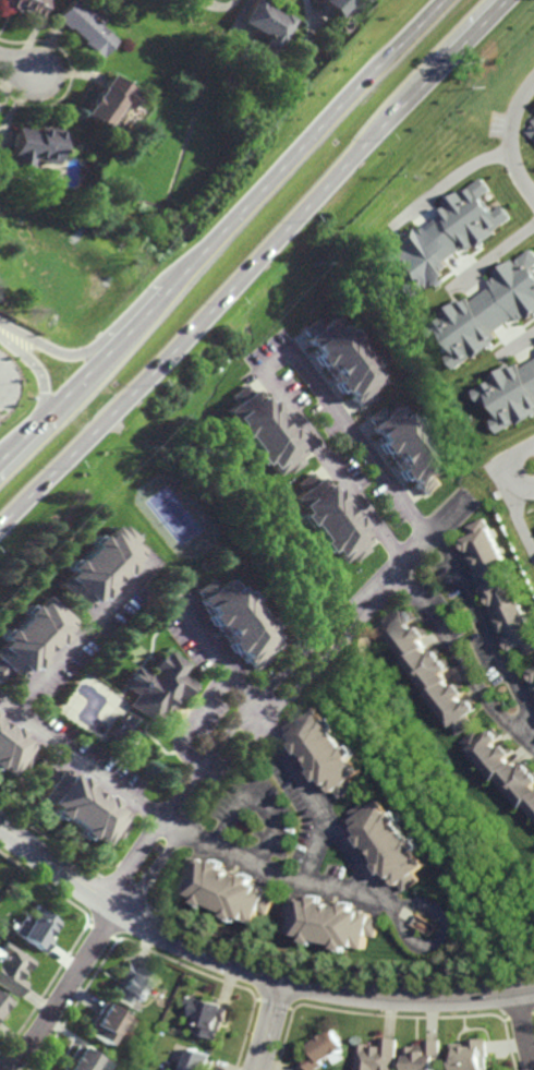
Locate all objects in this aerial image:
building: (25, 7)
building: (340, 7)
building: (267, 25)
building: (84, 29)
road: (19, 65)
building: (106, 105)
building: (533, 110)
building: (529, 127)
road: (512, 137)
building: (35, 146)
road: (454, 178)
road: (226, 229)
building: (441, 238)
road: (493, 256)
road: (248, 261)
building: (487, 310)
road: (520, 340)
road: (58, 351)
building: (345, 359)
road: (271, 362)
road: (36, 366)
building: (509, 394)
road: (85, 407)
building: (265, 431)
building: (410, 447)
road: (533, 457)
road: (533, 459)
road: (511, 506)
park: (173, 517)
building: (329, 519)
road: (416, 549)
building: (104, 565)
building: (498, 587)
road: (364, 602)
building: (238, 622)
road: (482, 630)
road: (86, 637)
building: (34, 639)
building: (533, 657)
road: (458, 665)
building: (428, 669)
building: (530, 675)
building: (160, 686)
building: (533, 690)
road: (187, 729)
building: (128, 731)
building: (15, 748)
building: (329, 752)
building: (502, 766)
road: (258, 800)
building: (85, 807)
building: (393, 844)
building: (158, 847)
road: (318, 851)
road: (332, 890)
building: (227, 891)
building: (1, 914)
building: (335, 925)
building: (430, 928)
building: (38, 929)
road: (432, 948)
building: (13, 969)
road: (248, 969)
building: (133, 985)
road: (64, 991)
building: (3, 1001)
building: (206, 1015)
building: (107, 1020)
road: (267, 1024)
road: (525, 1031)
building: (324, 1049)
building: (377, 1055)
building: (470, 1055)
building: (423, 1056)
building: (77, 1059)
building: (197, 1059)

